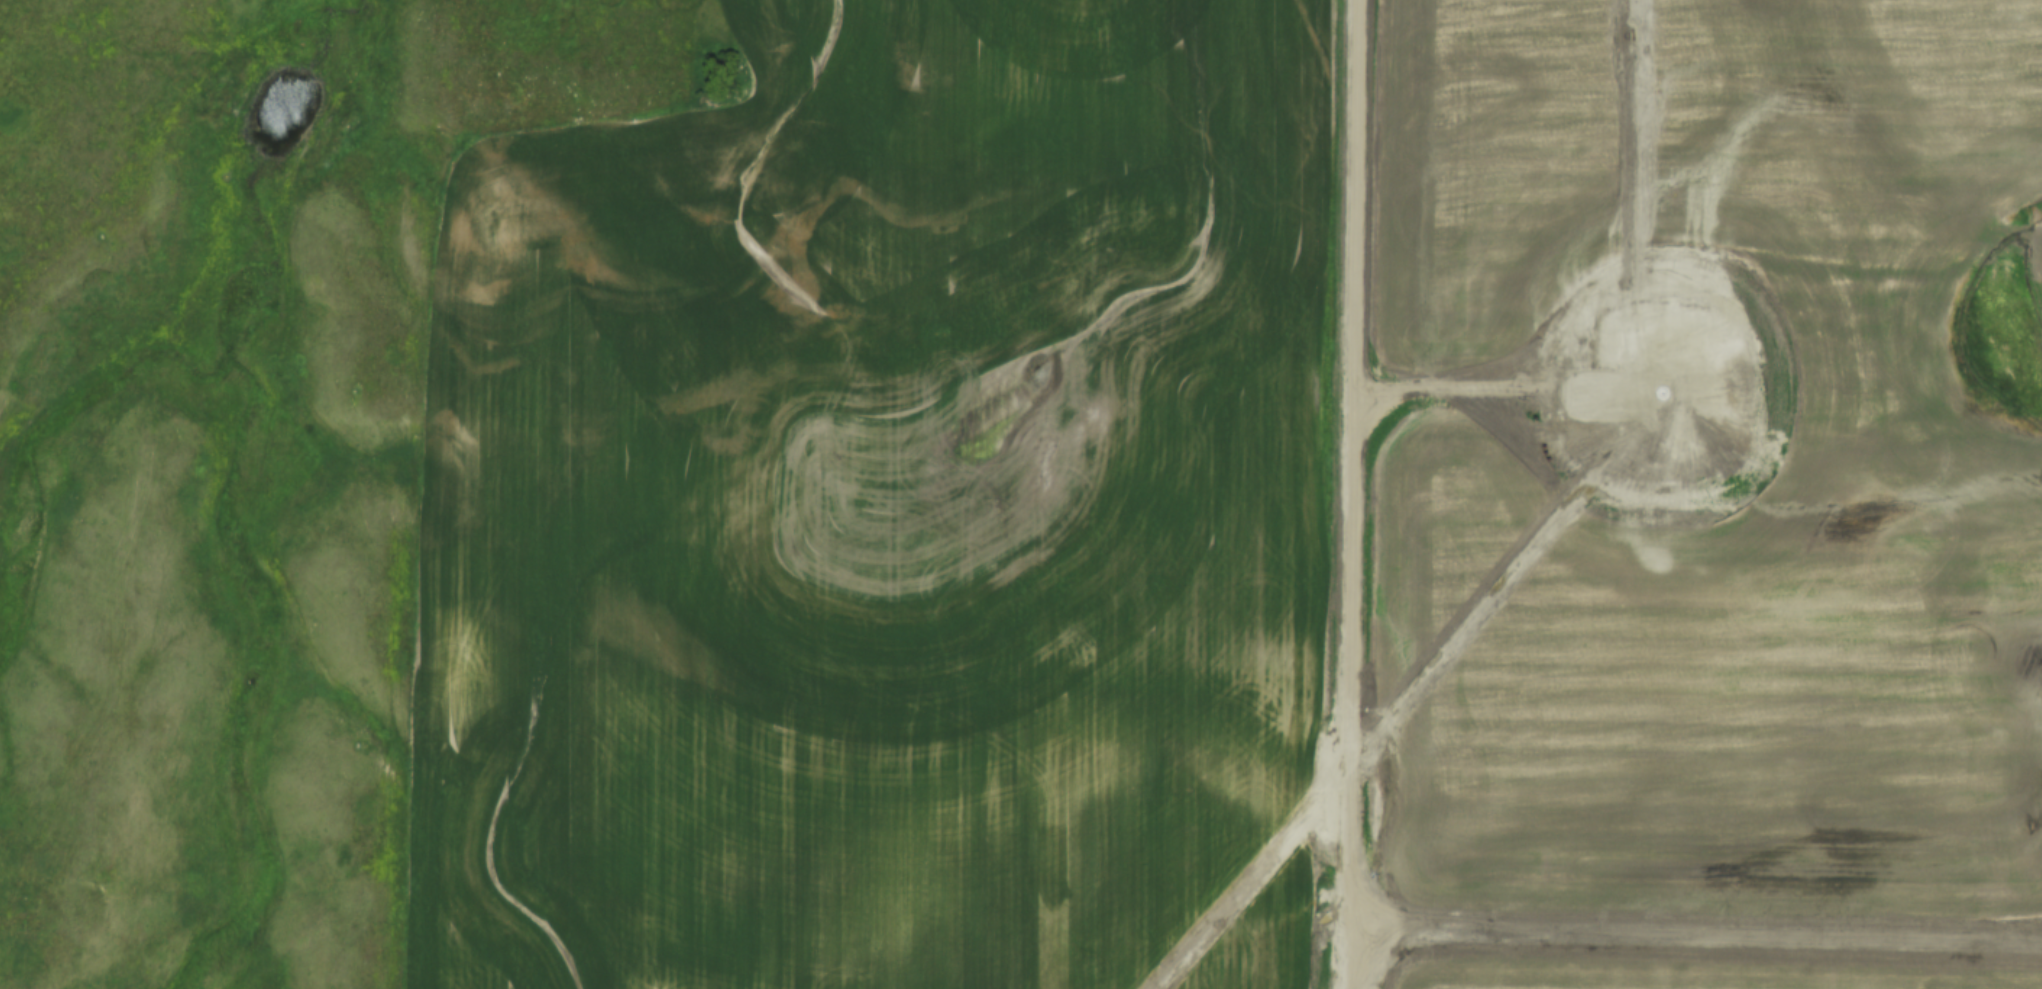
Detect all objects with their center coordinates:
wind turbine: (1663, 392)

